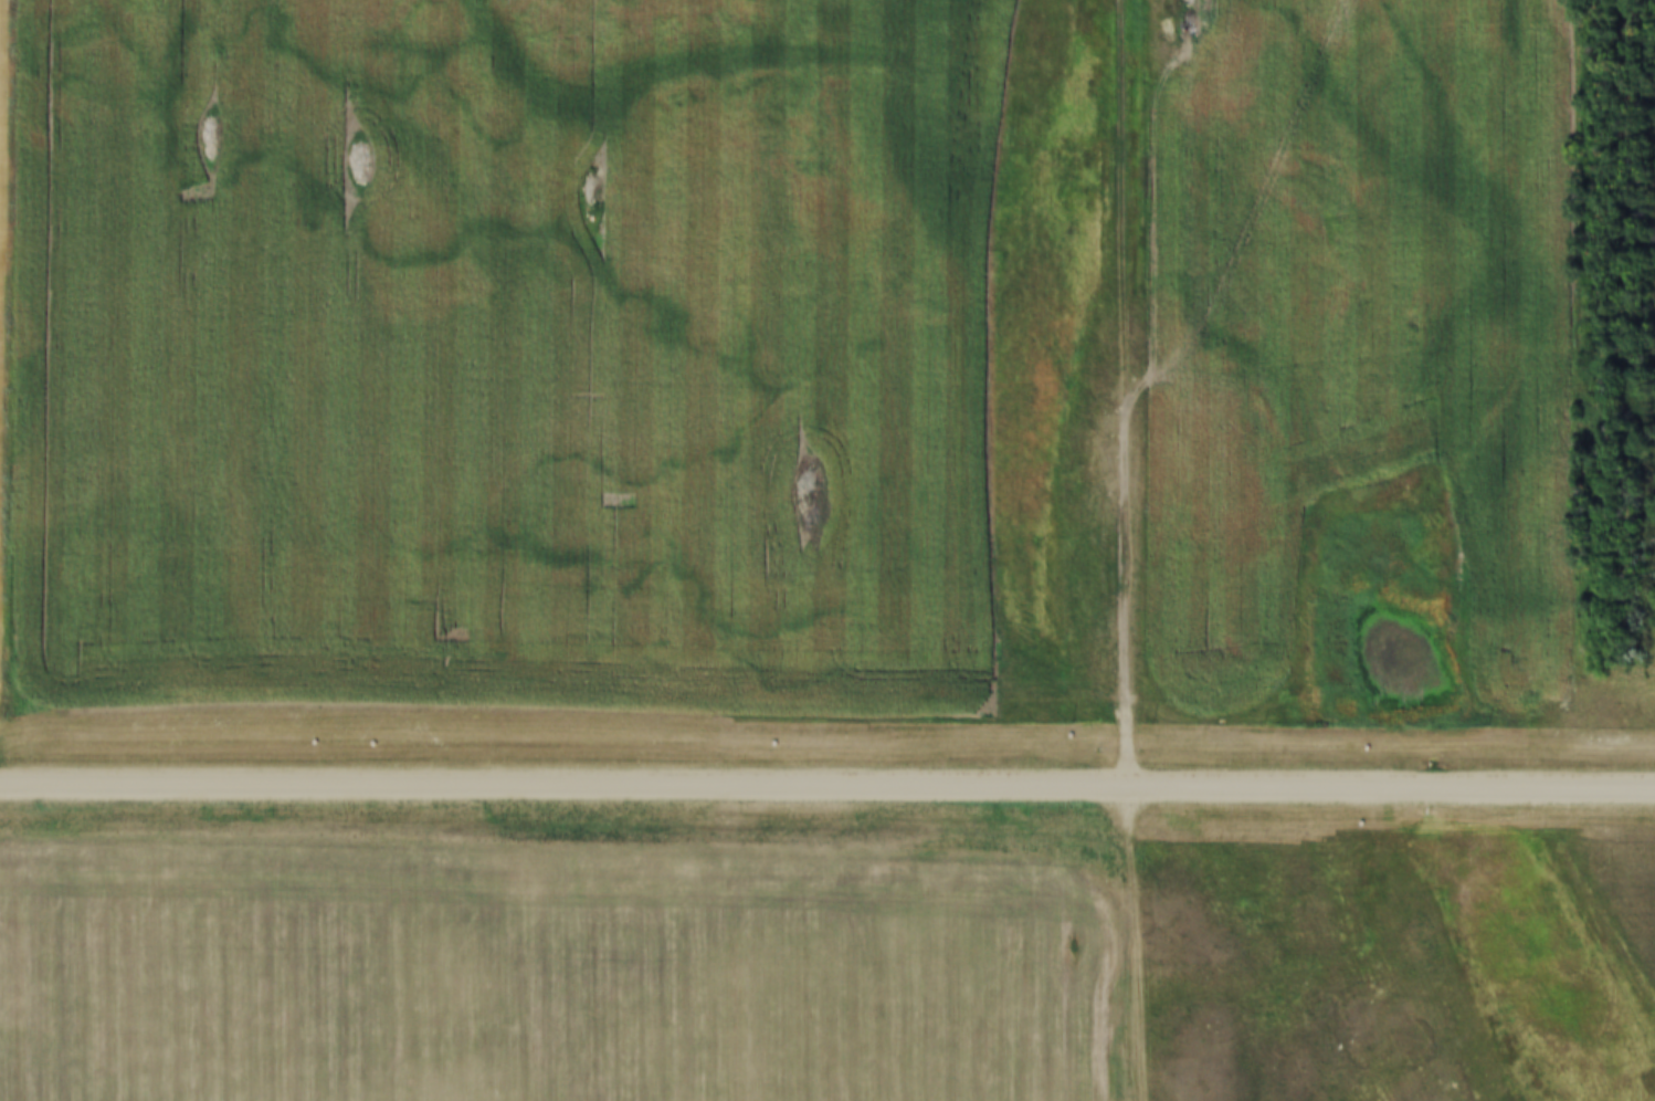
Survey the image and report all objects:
road: (1125, 550)
road: (827, 784)

